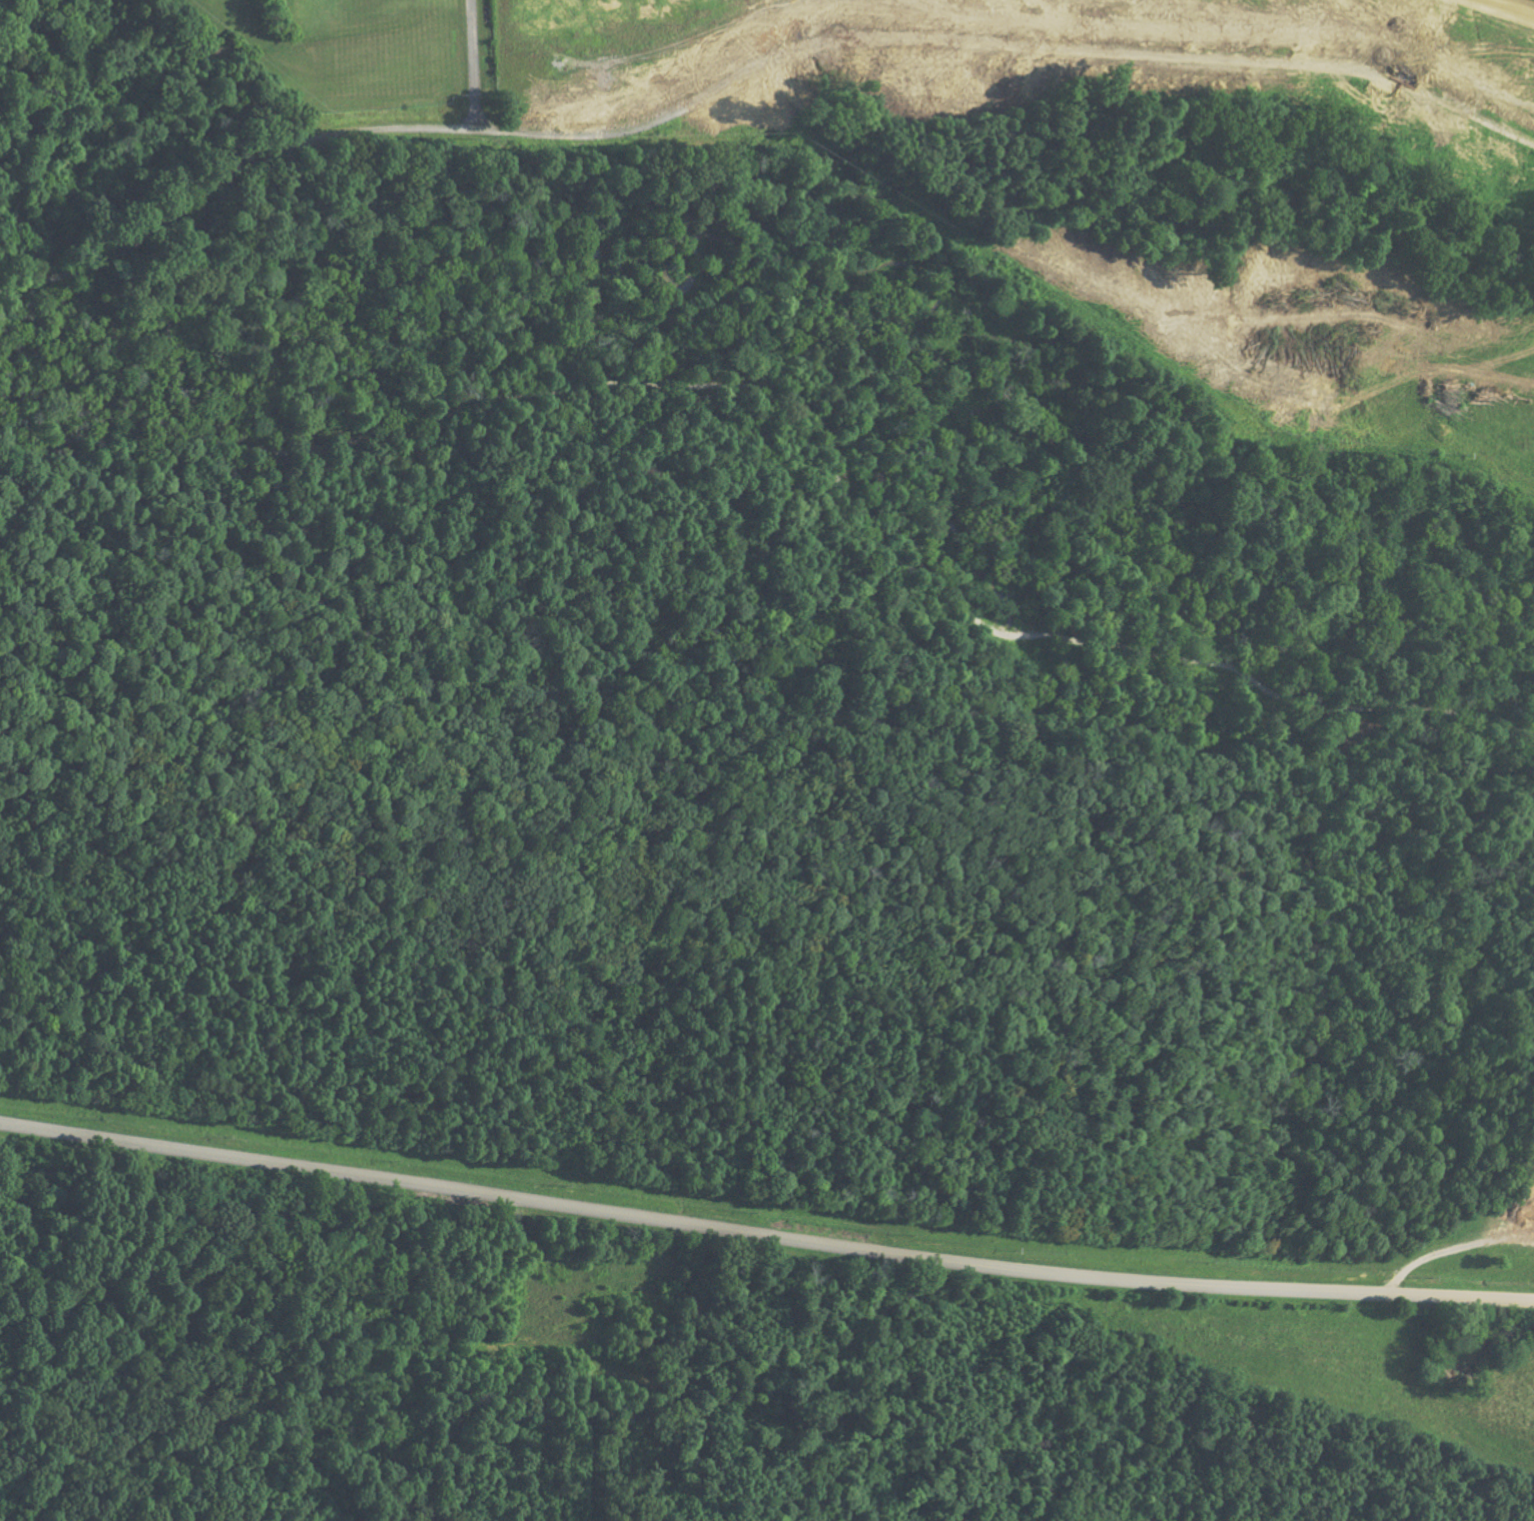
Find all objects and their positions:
road: (471, 63)
road: (754, 72)
road: (764, 1234)

